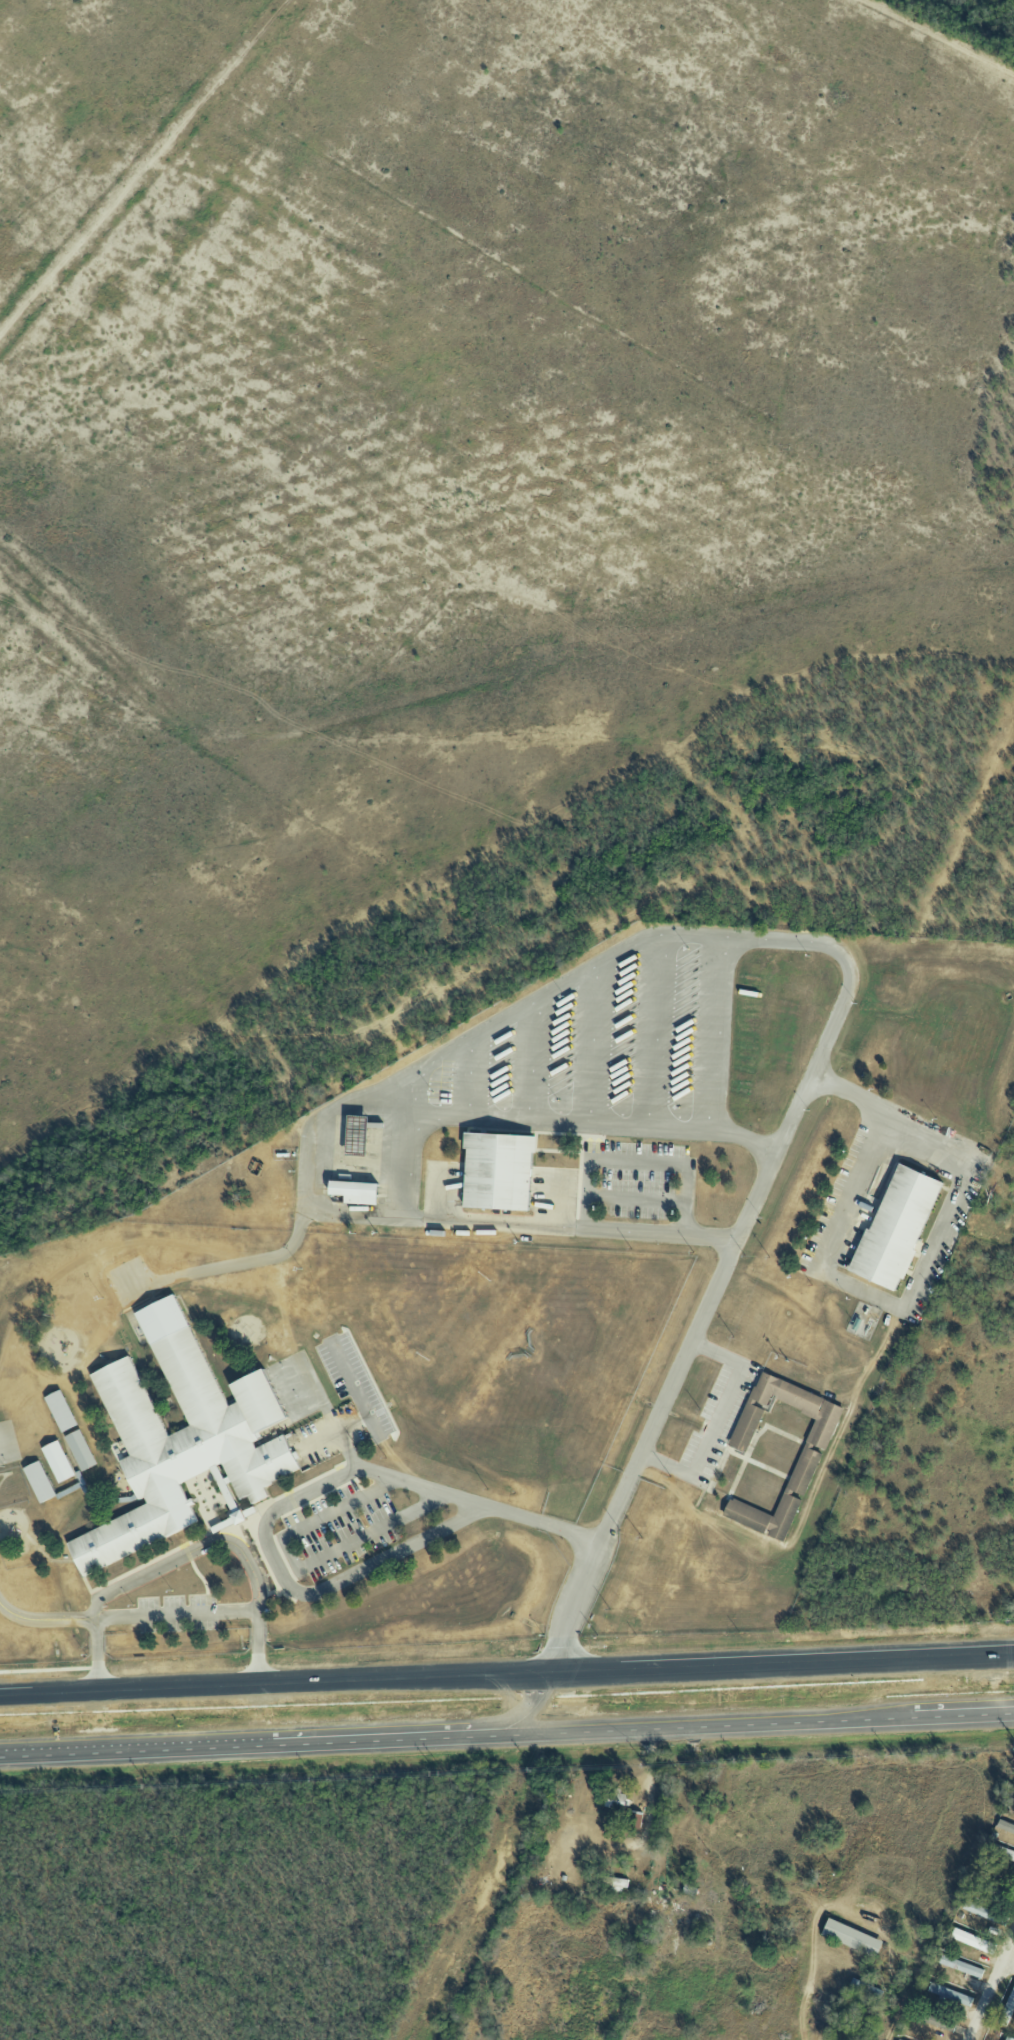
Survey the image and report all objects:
road: (730, 938)
road: (653, 1029)
road: (714, 1033)
road: (591, 1044)
road: (530, 1061)
road: (571, 1122)
building: (500, 1168)
road: (587, 1183)
building: (356, 1190)
road: (636, 1196)
road: (348, 1216)
road: (437, 1221)
building: (897, 1226)
road: (919, 1278)
building: (62, 1410)
building: (821, 1411)
road: (717, 1420)
building: (185, 1435)
building: (82, 1449)
building: (59, 1460)
road: (353, 1473)
building: (800, 1474)
building: (41, 1481)
road: (187, 1552)
road: (297, 1568)
road: (175, 1614)
road: (45, 1619)
road: (506, 1670)
road: (523, 1710)
road: (964, 1713)
road: (866, 1718)
road: (647, 1727)
road: (374, 1739)
road: (135, 1749)
building: (614, 1799)
building: (634, 1820)
building: (1005, 1826)
building: (1002, 1851)
building: (616, 1882)
building: (994, 1889)
building: (984, 1911)
building: (850, 1937)
building: (974, 1941)
road: (1010, 1962)
building: (961, 1966)
road: (898, 1991)
road: (993, 1991)
building: (950, 1994)
building: (1007, 2009)
building: (1006, 2039)

